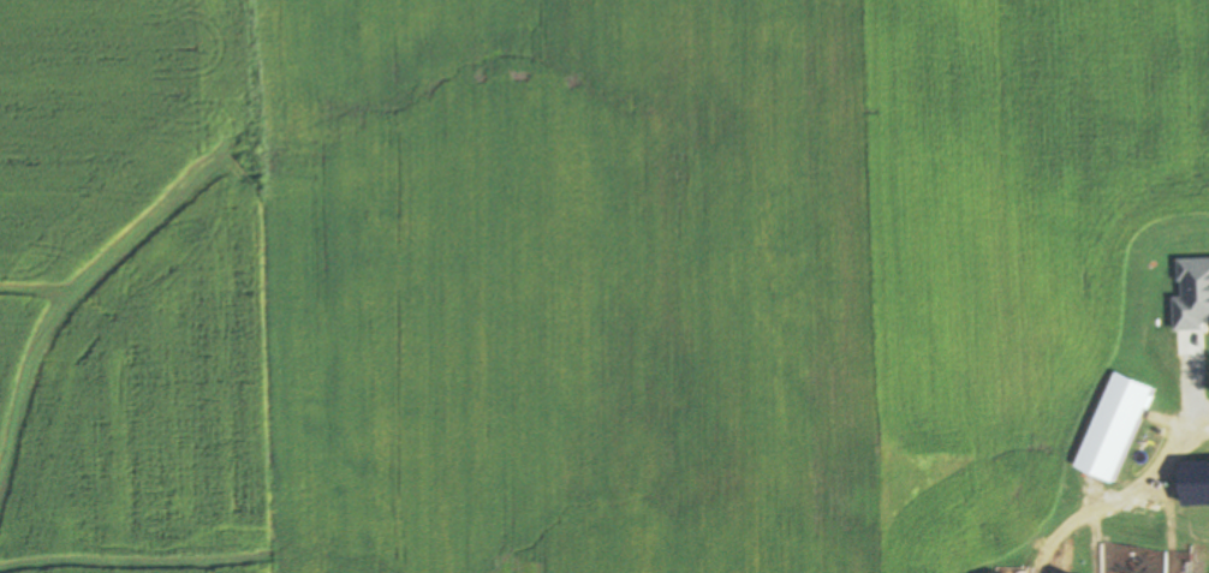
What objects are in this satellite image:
building: (1113, 426)
building: (1199, 485)
road: (1119, 496)

